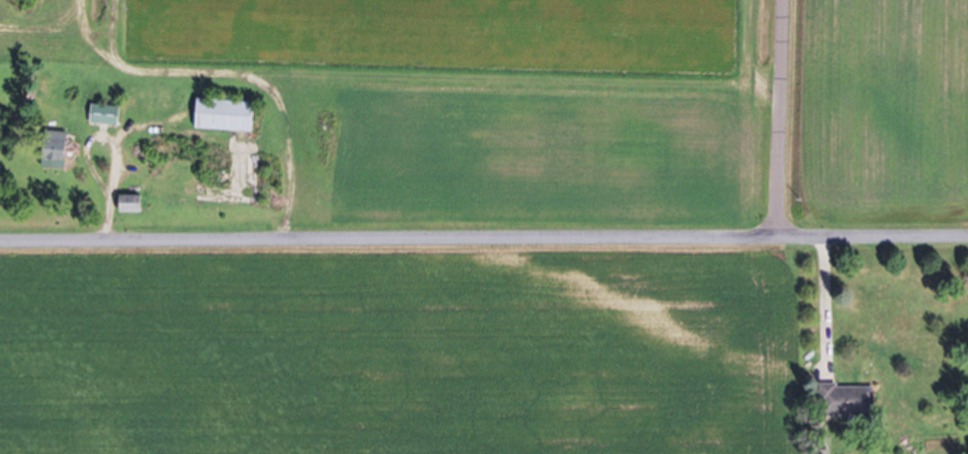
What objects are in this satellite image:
building: (105, 116)
building: (225, 116)
road: (790, 122)
building: (54, 150)
road: (116, 188)
building: (131, 203)
road: (483, 243)
building: (847, 402)

